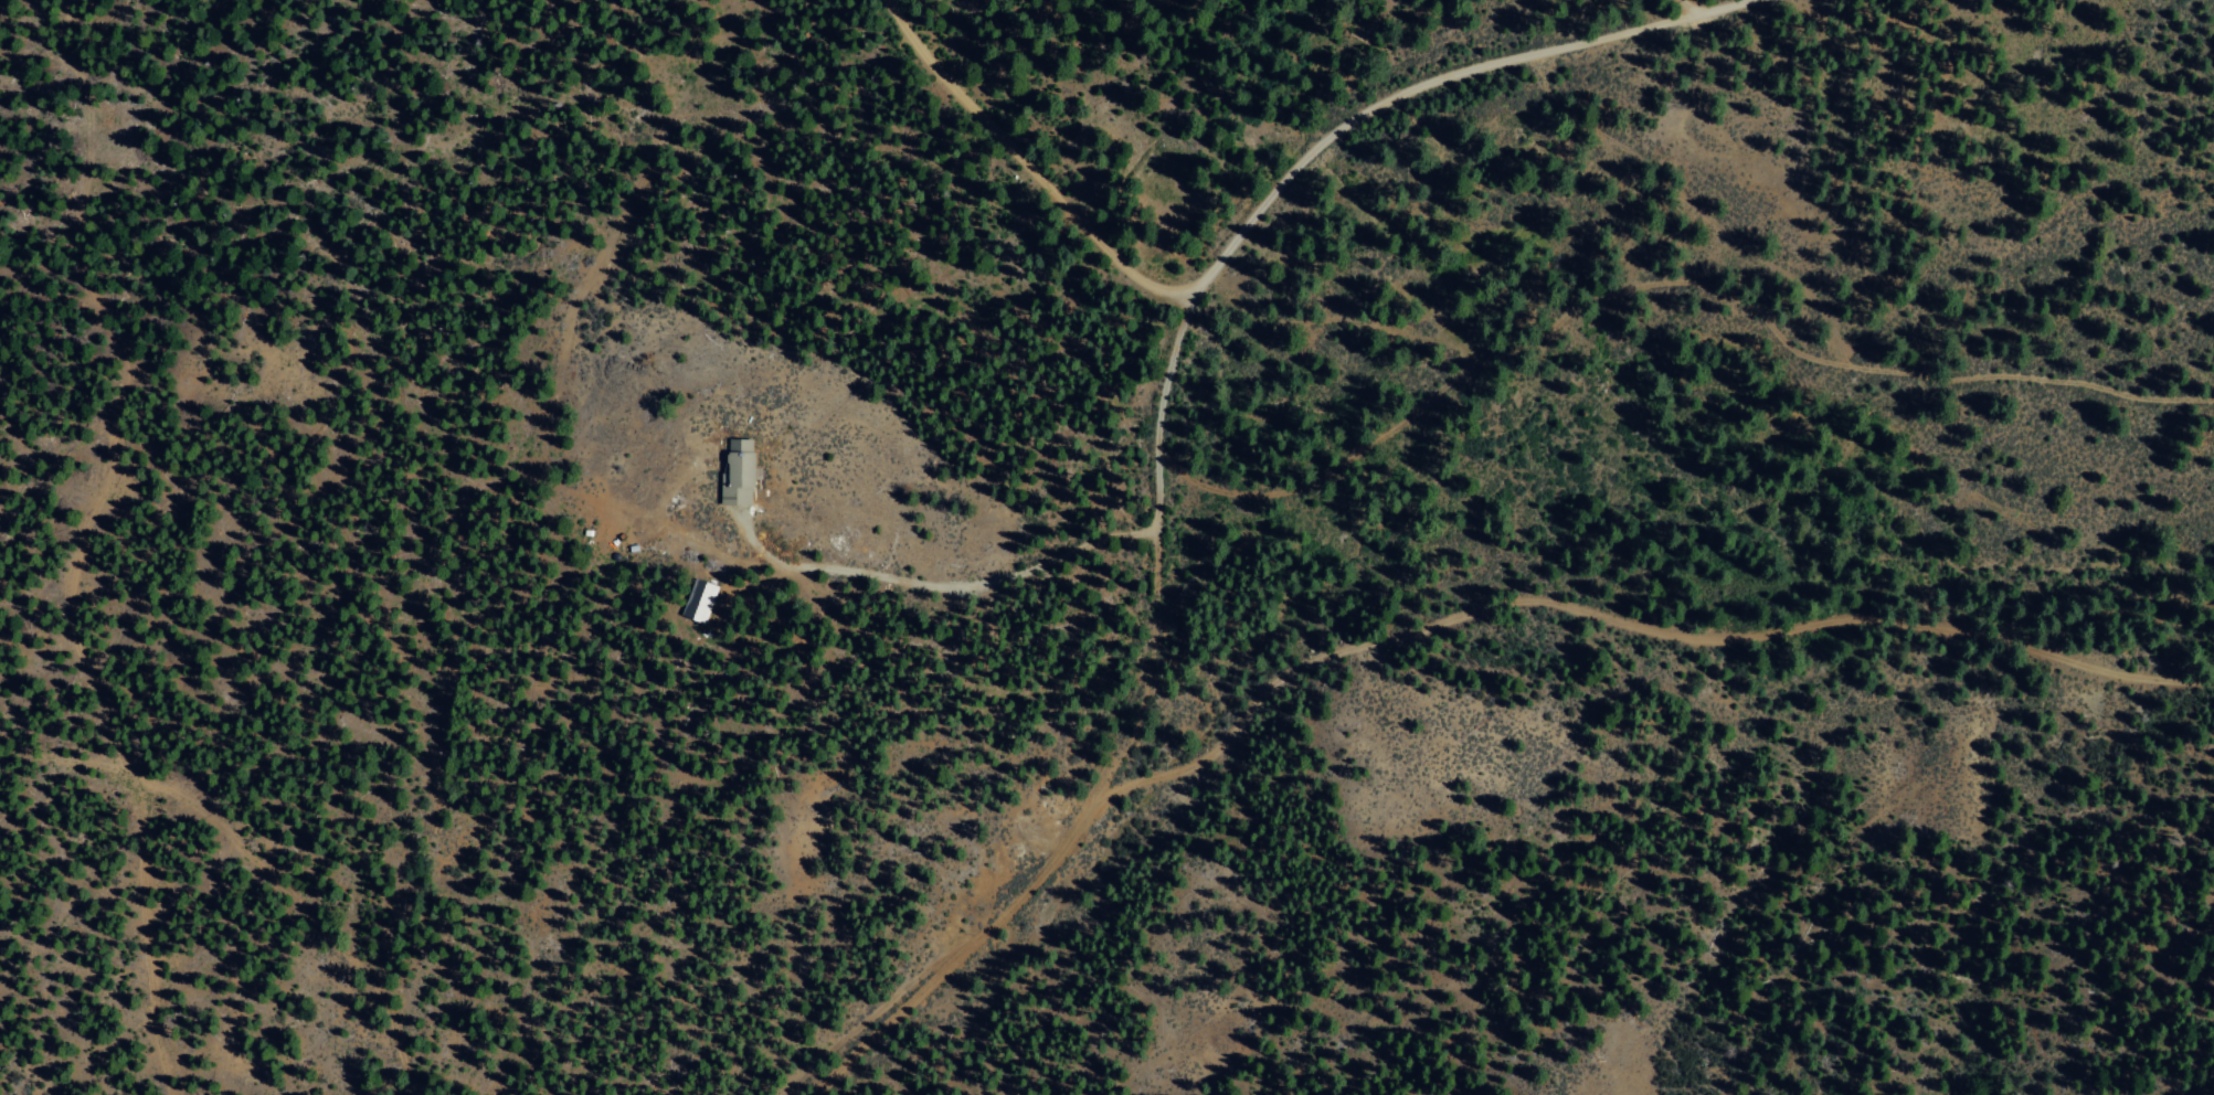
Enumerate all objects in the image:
crop: (1657, 387)
road: (1152, 459)
building: (733, 471)

